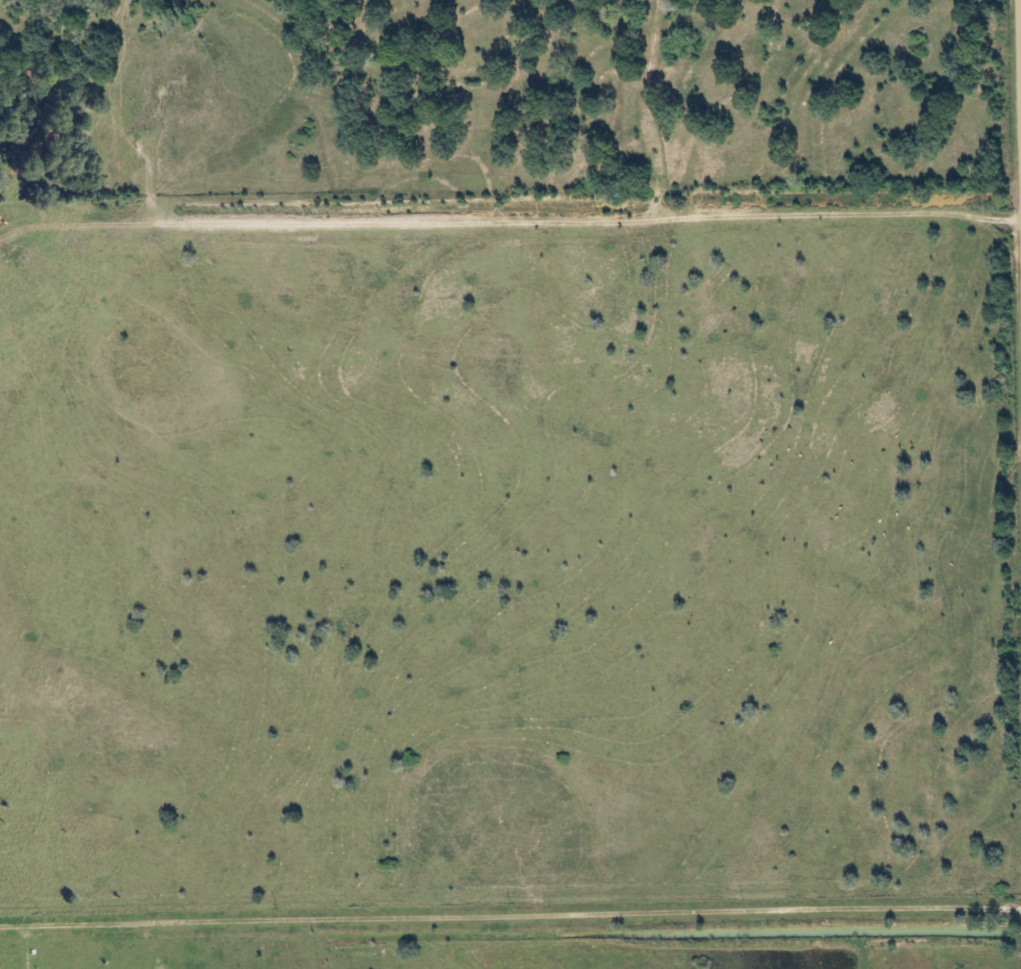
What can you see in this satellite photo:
road: (539, 218)
road: (511, 913)

